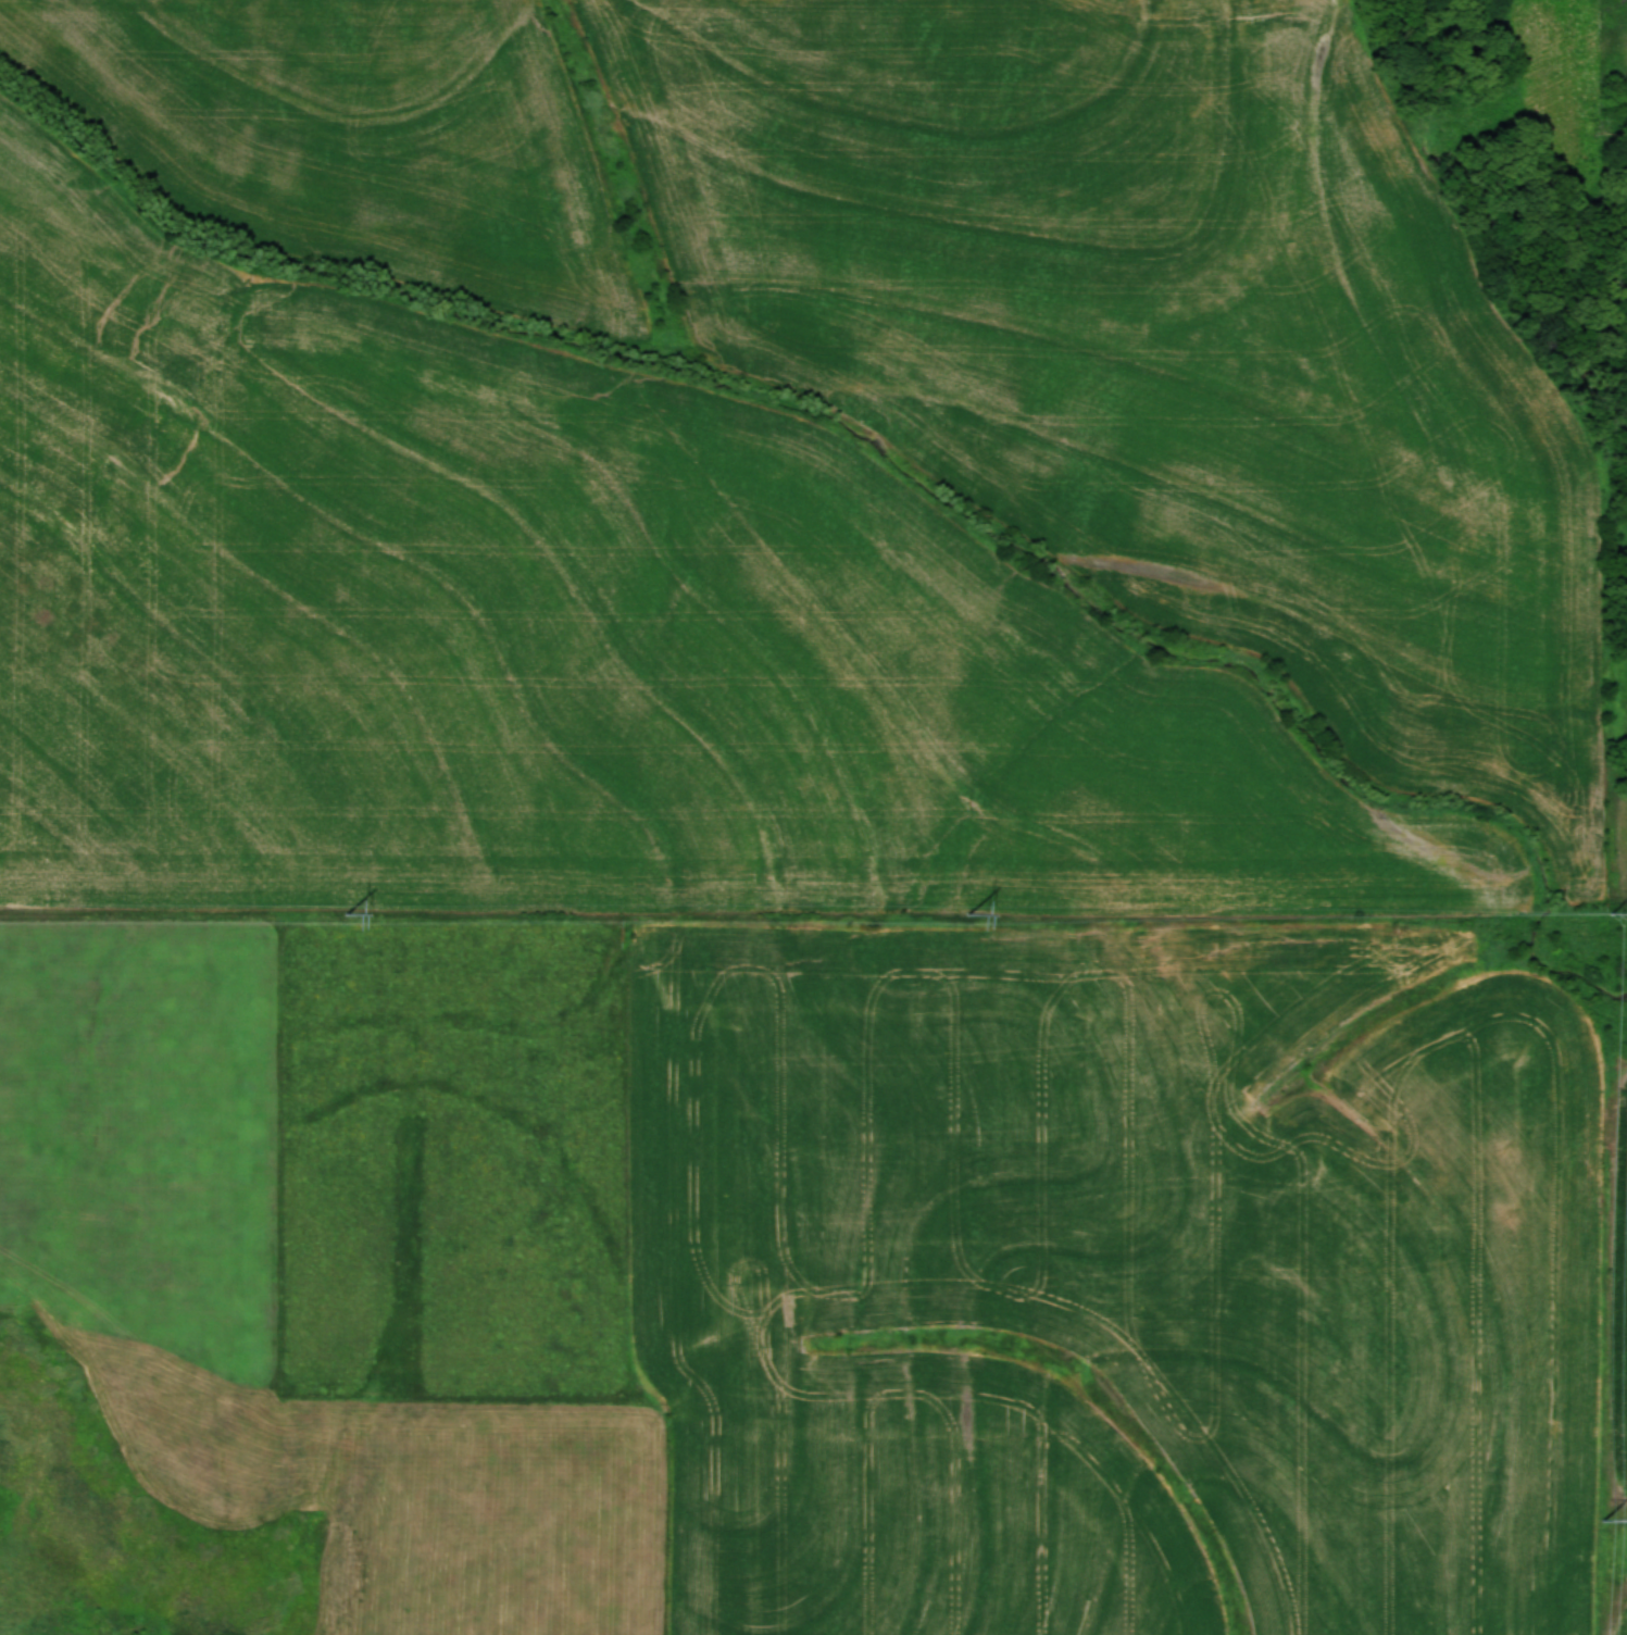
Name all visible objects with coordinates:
power tower: (345, 912)
power tower: (967, 912)
power tower: (1606, 913)
power tower: (1602, 1519)

